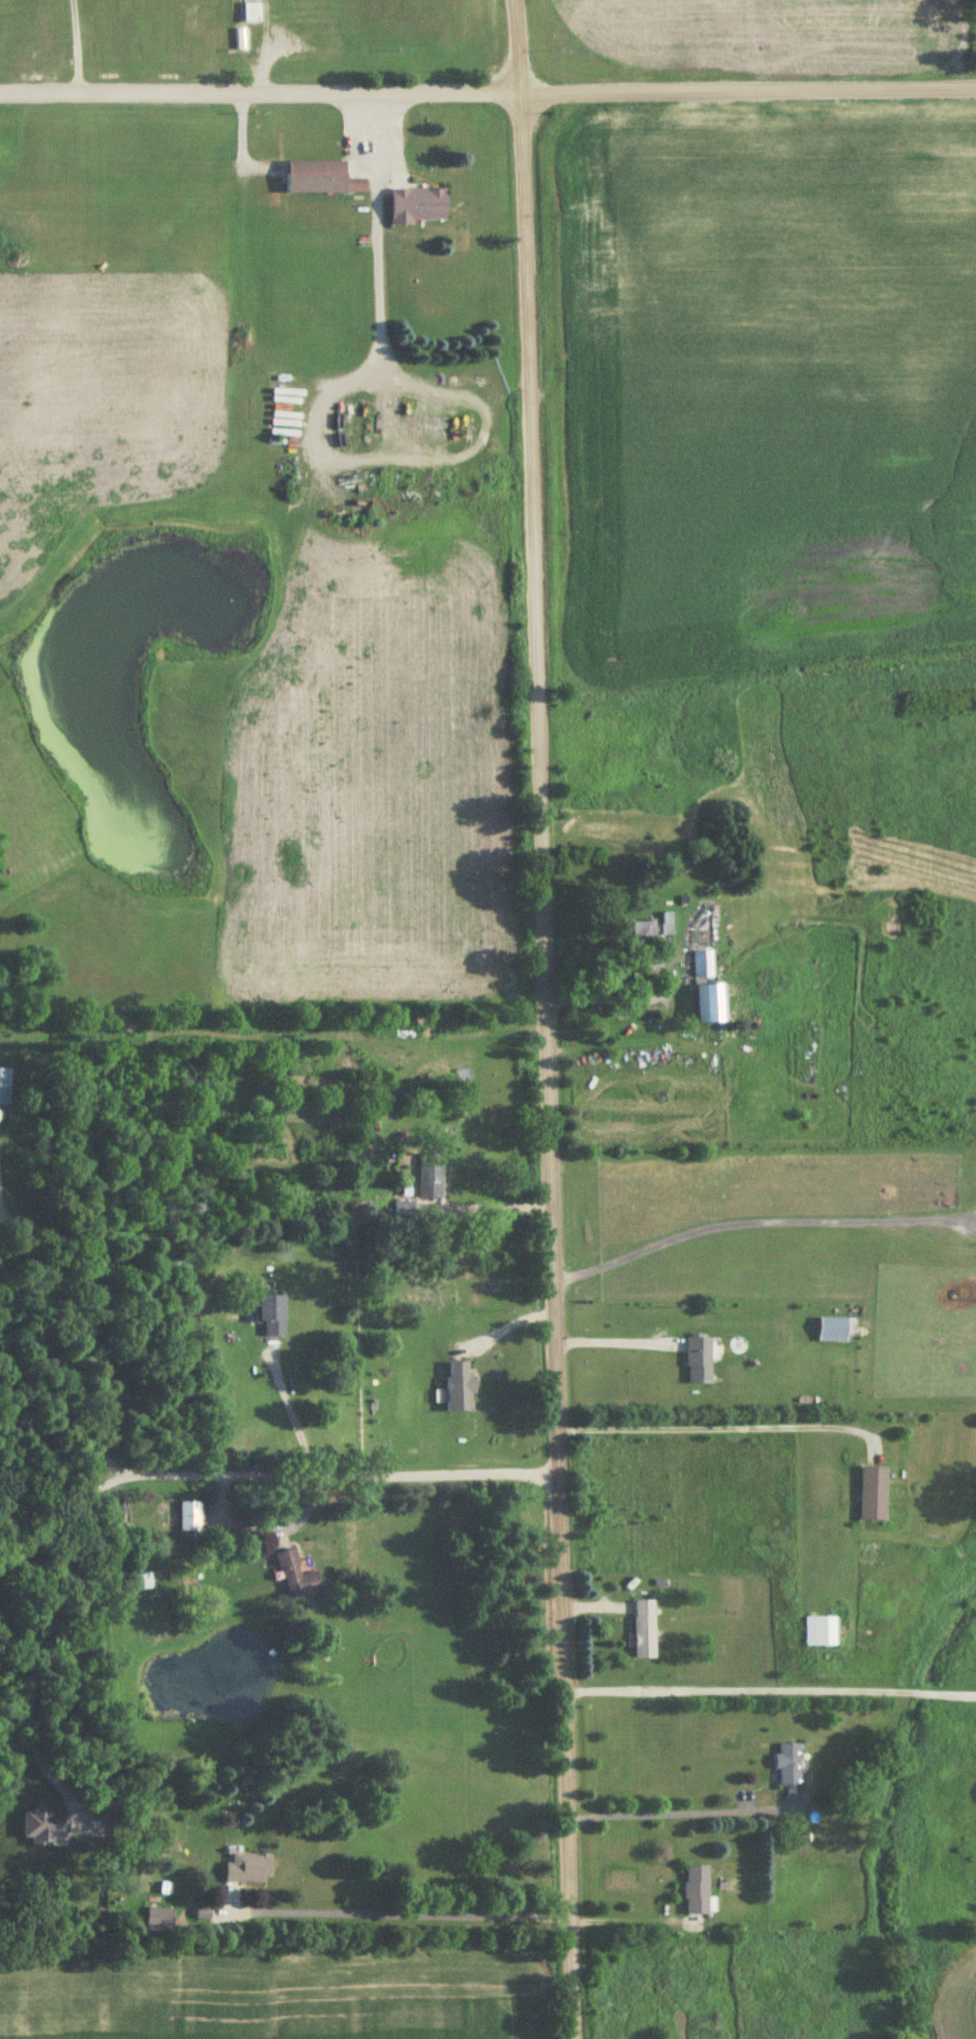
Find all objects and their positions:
airport runway: (132, 7)
building: (251, 13)
road: (70, 45)
road: (487, 87)
road: (241, 135)
building: (322, 179)
building: (419, 206)
road: (378, 228)
building: (652, 929)
building: (702, 965)
building: (710, 1005)
road: (544, 1019)
building: (5, 1087)
building: (432, 1175)
building: (410, 1213)
road: (759, 1219)
road: (94, 1315)
building: (272, 1316)
road: (505, 1325)
road: (607, 1339)
building: (699, 1361)
building: (460, 1388)
road: (293, 1415)
road: (721, 1424)
road: (338, 1476)
building: (873, 1494)
building: (190, 1516)
road: (60, 1519)
road: (265, 1530)
building: (297, 1576)
building: (644, 1629)
building: (819, 1631)
road: (771, 1692)
road: (31, 1725)
building: (789, 1763)
road: (678, 1815)
building: (46, 1827)
building: (249, 1869)
building: (697, 1890)
road: (397, 1916)
road: (620, 1919)

